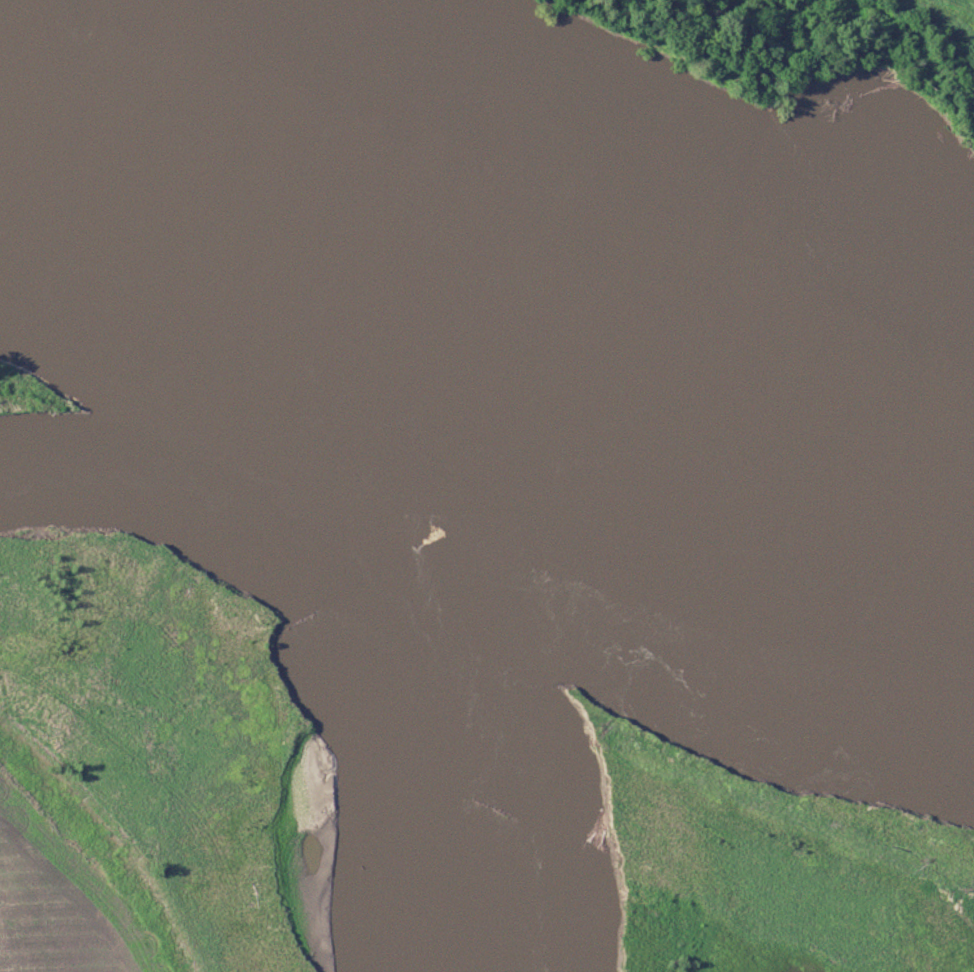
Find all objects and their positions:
river: (487, 258)

